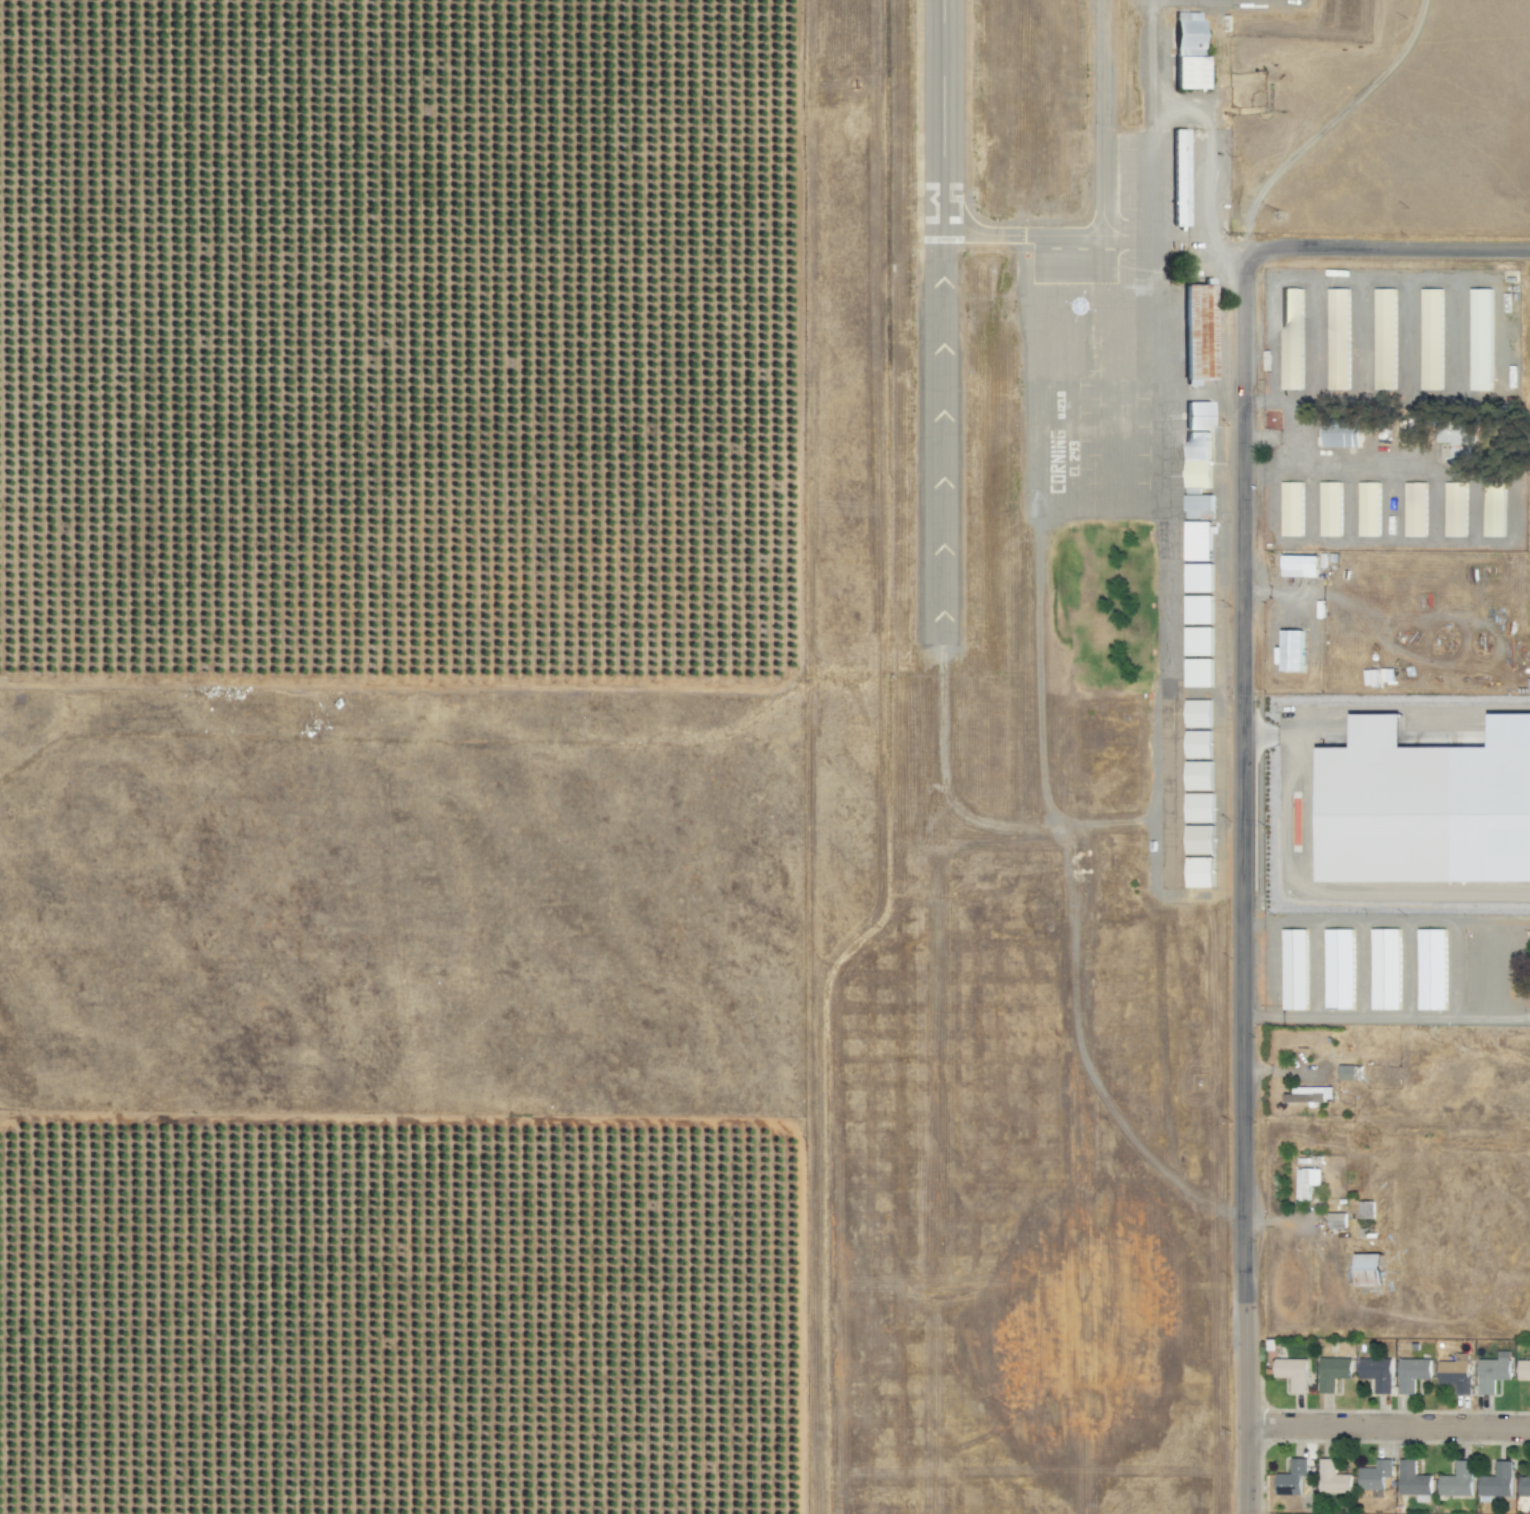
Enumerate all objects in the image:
building: (1187, 52)
building: (1178, 178)
road: (1380, 247)
road: (1491, 278)
building: (1197, 333)
road: (1408, 338)
road: (1456, 338)
building: (1290, 339)
road: (1315, 339)
building: (1337, 339)
road: (1361, 339)
building: (1383, 339)
building: (1430, 339)
building: (1479, 339)
airport runway: (938, 412)
building: (1196, 416)
building: (1340, 434)
building: (1458, 455)
building: (1196, 476)
road: (1437, 505)
road: (1475, 505)
road: (1309, 506)
road: (1351, 506)
road: (1394, 506)
building: (1290, 509)
building: (1328, 509)
building: (1367, 509)
building: (1414, 510)
building: (1454, 510)
building: (1492, 510)
road: (1441, 540)
building: (1197, 541)
building: (1298, 566)
building: (1198, 578)
building: (1197, 610)
building: (1198, 642)
building: (1290, 652)
building: (1198, 673)
building: (1197, 714)
building: (1197, 745)
airport: (1015, 746)
building: (1198, 776)
building: (1199, 808)
building: (1423, 815)
building: (1199, 841)
building: (1199, 873)
road: (1240, 890)
road: (1493, 921)
road: (1457, 938)
building: (1338, 968)
building: (1431, 968)
building: (1293, 969)
road: (1318, 969)
road: (1360, 969)
building: (1384, 969)
road: (1411, 969)
road: (1493, 1018)
building: (1348, 1073)
building: (1308, 1094)
building: (1305, 1182)
building: (1365, 1209)
building: (1336, 1220)
building: (1367, 1269)
building: (1523, 1370)
building: (1332, 1372)
building: (1493, 1372)
building: (1292, 1373)
building: (1376, 1373)
building: (1411, 1374)
building: (1455, 1374)
road: (1386, 1428)
building: (1373, 1475)
building: (1290, 1478)
building: (1331, 1478)
building: (1456, 1480)
building: (1412, 1481)
building: (1495, 1482)
building: (1524, 1486)

